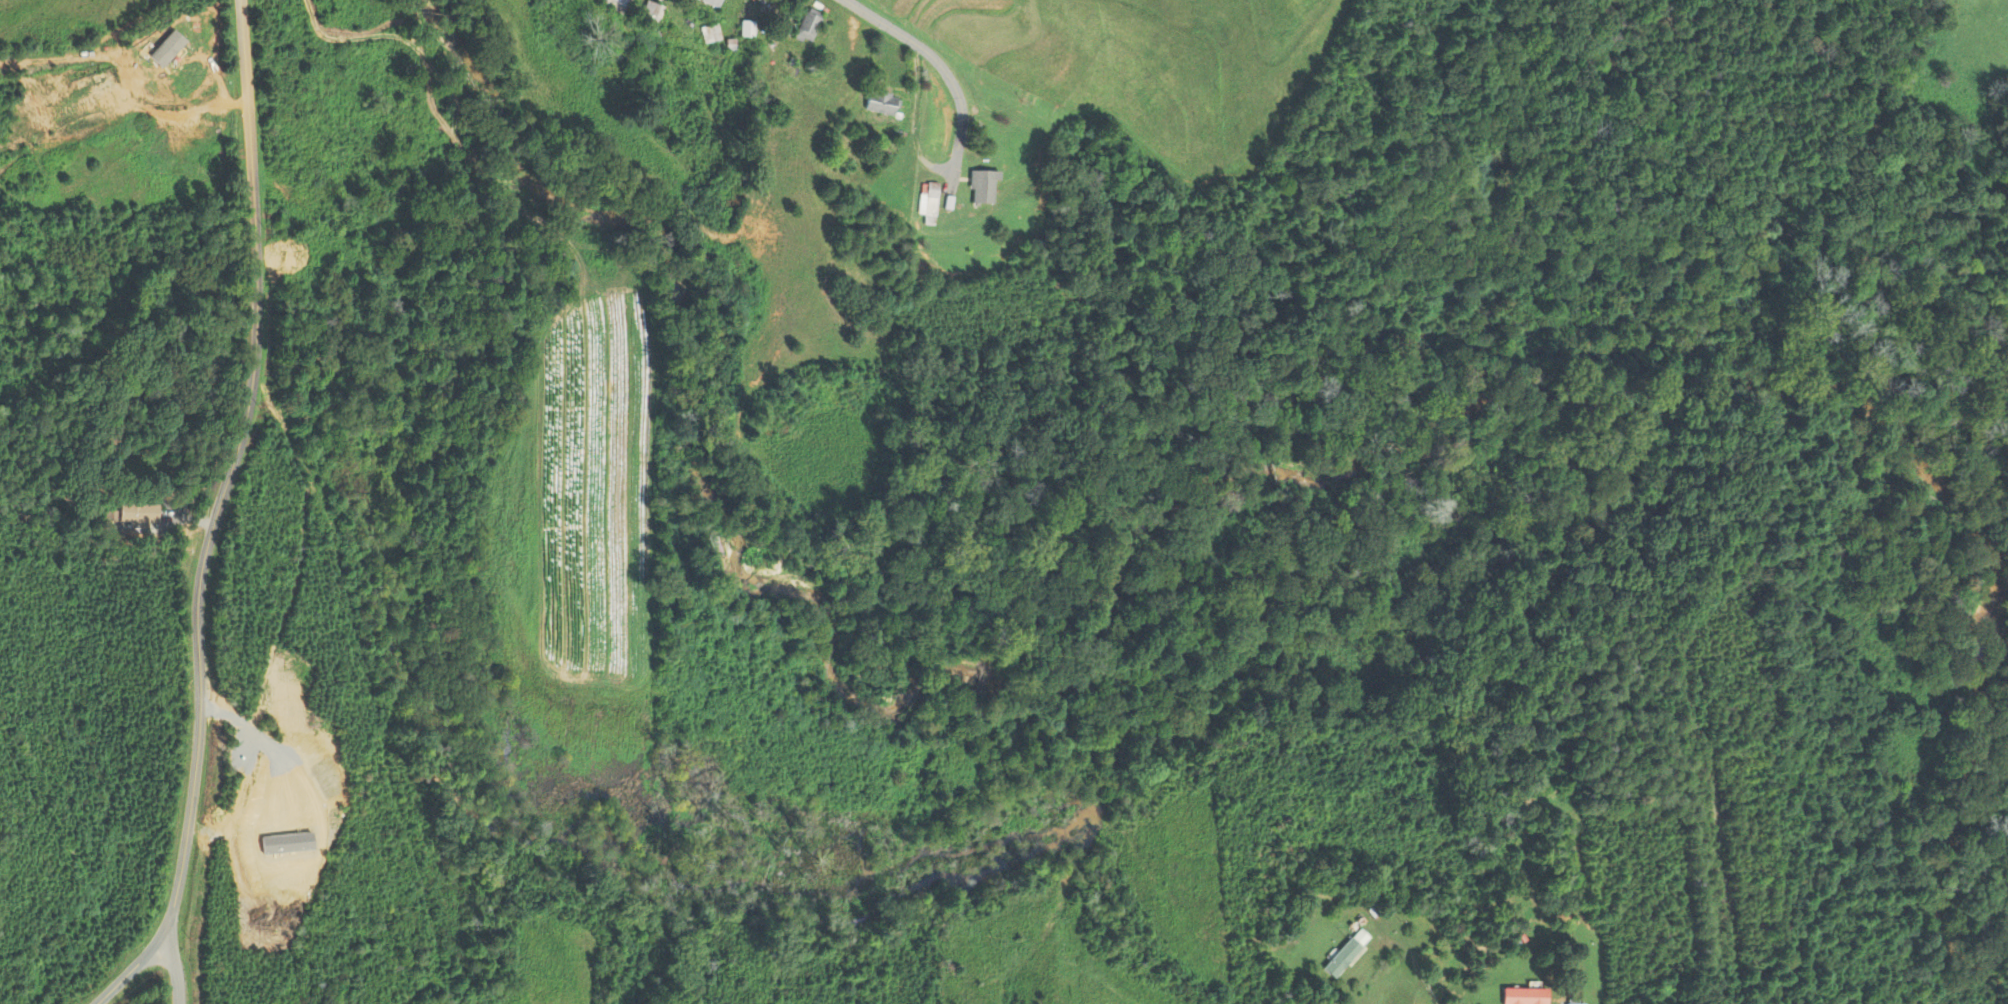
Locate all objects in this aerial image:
building: (705, 0)
building: (621, 3)
building: (651, 12)
building: (808, 26)
building: (746, 29)
building: (710, 33)
road: (935, 61)
building: (881, 102)
building: (981, 187)
building: (927, 199)
road: (229, 471)
building: (136, 514)
building: (1342, 957)
road: (175, 968)
road: (129, 972)
road: (1421, 975)
building: (1524, 996)

